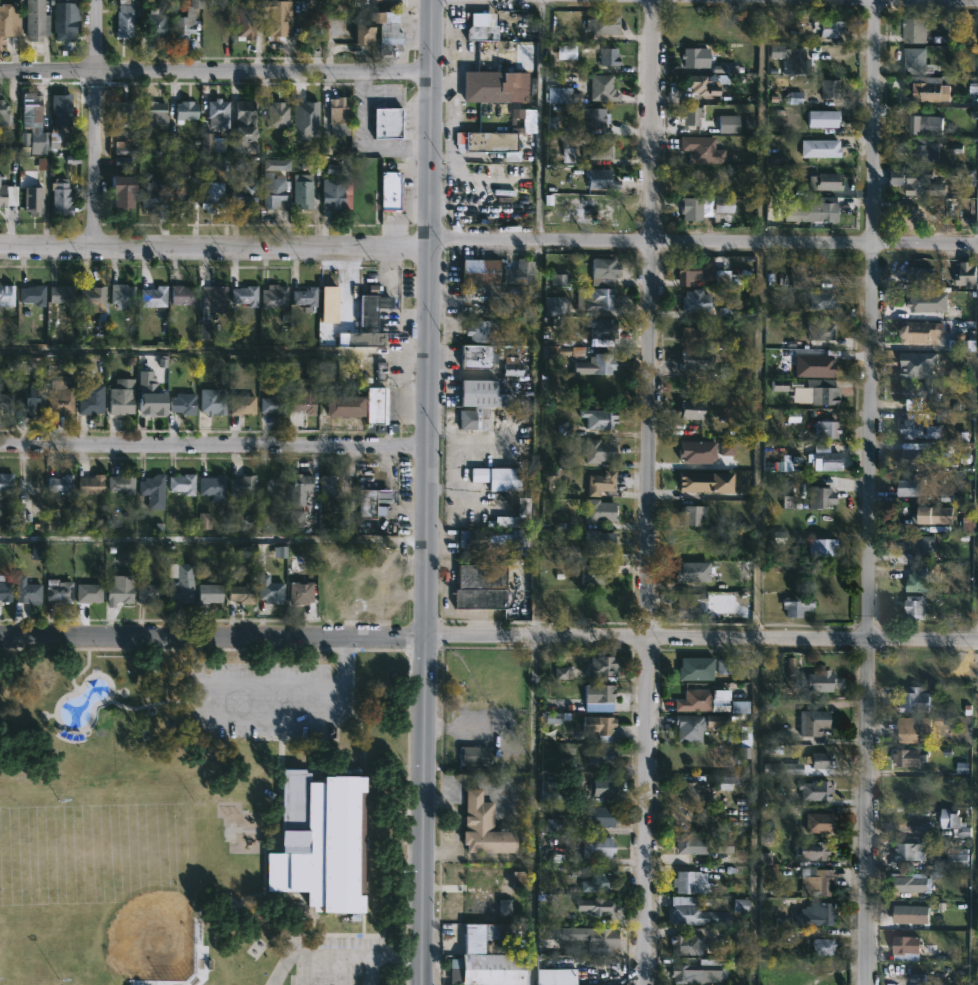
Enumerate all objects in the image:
road: (952, 0)
building: (359, 1)
building: (276, 18)
building: (9, 19)
building: (124, 19)
building: (246, 19)
building: (35, 20)
building: (63, 20)
building: (186, 21)
building: (155, 24)
building: (601, 24)
building: (313, 26)
building: (831, 28)
building: (916, 30)
building: (377, 32)
building: (482, 32)
building: (608, 57)
building: (695, 58)
building: (796, 61)
building: (917, 62)
road: (214, 72)
building: (699, 85)
building: (486, 86)
building: (602, 88)
building: (829, 89)
building: (930, 90)
building: (60, 103)
building: (185, 110)
building: (218, 111)
building: (3, 113)
building: (154, 113)
building: (124, 114)
building: (338, 115)
building: (277, 116)
building: (692, 116)
building: (594, 118)
building: (823, 119)
road: (539, 121)
road: (93, 123)
building: (388, 123)
building: (922, 124)
building: (242, 127)
building: (38, 130)
building: (491, 141)
building: (584, 147)
building: (822, 148)
building: (926, 153)
building: (72, 168)
building: (0, 176)
building: (601, 180)
building: (916, 181)
building: (825, 182)
building: (272, 190)
building: (302, 191)
building: (390, 191)
building: (336, 193)
building: (153, 194)
building: (247, 194)
building: (2, 196)
building: (211, 197)
building: (60, 198)
building: (180, 200)
building: (32, 201)
building: (122, 201)
building: (723, 206)
building: (691, 208)
building: (810, 211)
road: (702, 244)
road: (213, 246)
building: (524, 271)
building: (603, 271)
building: (480, 272)
building: (690, 272)
building: (801, 275)
building: (968, 275)
building: (924, 276)
building: (728, 278)
building: (121, 294)
building: (6, 295)
building: (31, 295)
building: (62, 295)
building: (91, 297)
building: (181, 297)
building: (243, 297)
building: (275, 297)
building: (305, 297)
building: (329, 298)
building: (153, 299)
building: (597, 299)
building: (508, 300)
building: (696, 301)
building: (823, 302)
building: (931, 302)
building: (554, 305)
building: (372, 308)
building: (204, 315)
building: (600, 328)
building: (820, 329)
building: (481, 331)
building: (920, 332)
building: (693, 336)
building: (364, 340)
road: (213, 349)
building: (476, 357)
building: (693, 361)
building: (597, 365)
building: (512, 367)
building: (0, 383)
building: (817, 392)
building: (91, 395)
building: (917, 395)
building: (151, 396)
building: (121, 397)
building: (60, 399)
building: (5, 401)
building: (212, 402)
building: (302, 402)
building: (274, 403)
building: (479, 403)
building: (30, 404)
building: (182, 405)
building: (242, 405)
building: (374, 406)
building: (344, 407)
building: (692, 410)
building: (598, 419)
building: (924, 427)
building: (827, 430)
road: (537, 441)
road: (213, 444)
building: (600, 451)
building: (829, 459)
building: (915, 459)
building: (505, 480)
building: (59, 483)
building: (601, 483)
building: (6, 484)
building: (89, 484)
building: (121, 484)
building: (182, 484)
building: (302, 484)
building: (707, 484)
building: (212, 487)
building: (242, 487)
building: (328, 487)
building: (911, 487)
building: (153, 491)
road: (425, 492)
road: (650, 492)
road: (870, 492)
building: (820, 498)
building: (370, 502)
building: (523, 507)
building: (599, 512)
building: (693, 516)
building: (934, 516)
building: (296, 521)
building: (520, 538)
building: (482, 541)
building: (599, 543)
building: (924, 547)
building: (821, 548)
building: (691, 549)
building: (268, 566)
building: (693, 573)
building: (594, 575)
building: (918, 581)
building: (299, 583)
building: (181, 584)
building: (481, 588)
building: (120, 590)
building: (26, 591)
building: (5, 592)
building: (58, 592)
building: (242, 592)
building: (88, 593)
building: (271, 593)
building: (149, 594)
building: (209, 594)
road: (977, 602)
building: (689, 605)
building: (604, 607)
building: (796, 607)
building: (917, 608)
road: (212, 636)
road: (701, 639)
building: (602, 665)
building: (696, 667)
building: (723, 667)
building: (820, 681)
building: (598, 695)
parking lot: (270, 698)
building: (700, 700)
building: (916, 700)
water park: (81, 704)
road: (269, 720)
building: (814, 722)
building: (599, 724)
building: (687, 728)
building: (910, 730)
building: (778, 737)
building: (601, 754)
building: (472, 755)
building: (909, 757)
building: (820, 761)
building: (783, 768)
building: (725, 784)
building: (603, 787)
building: (692, 789)
building: (816, 790)
road: (532, 811)
road: (976, 813)
building: (600, 816)
park: (199, 818)
park: (200, 818)
building: (820, 822)
building: (958, 824)
building: (484, 826)
building: (318, 840)
building: (691, 845)
building: (598, 846)
building: (813, 850)
building: (909, 851)
building: (957, 857)
park: (97, 877)
building: (687, 881)
building: (819, 882)
building: (598, 883)
building: (911, 886)
building: (740, 906)
building: (593, 907)
building: (699, 910)
building: (822, 914)
building: (909, 915)
building: (601, 939)
building: (688, 944)
building: (906, 944)
building: (823, 947)
road: (340, 954)
building: (488, 956)
parking lot: (341, 957)
building: (709, 966)
building: (556, 976)

